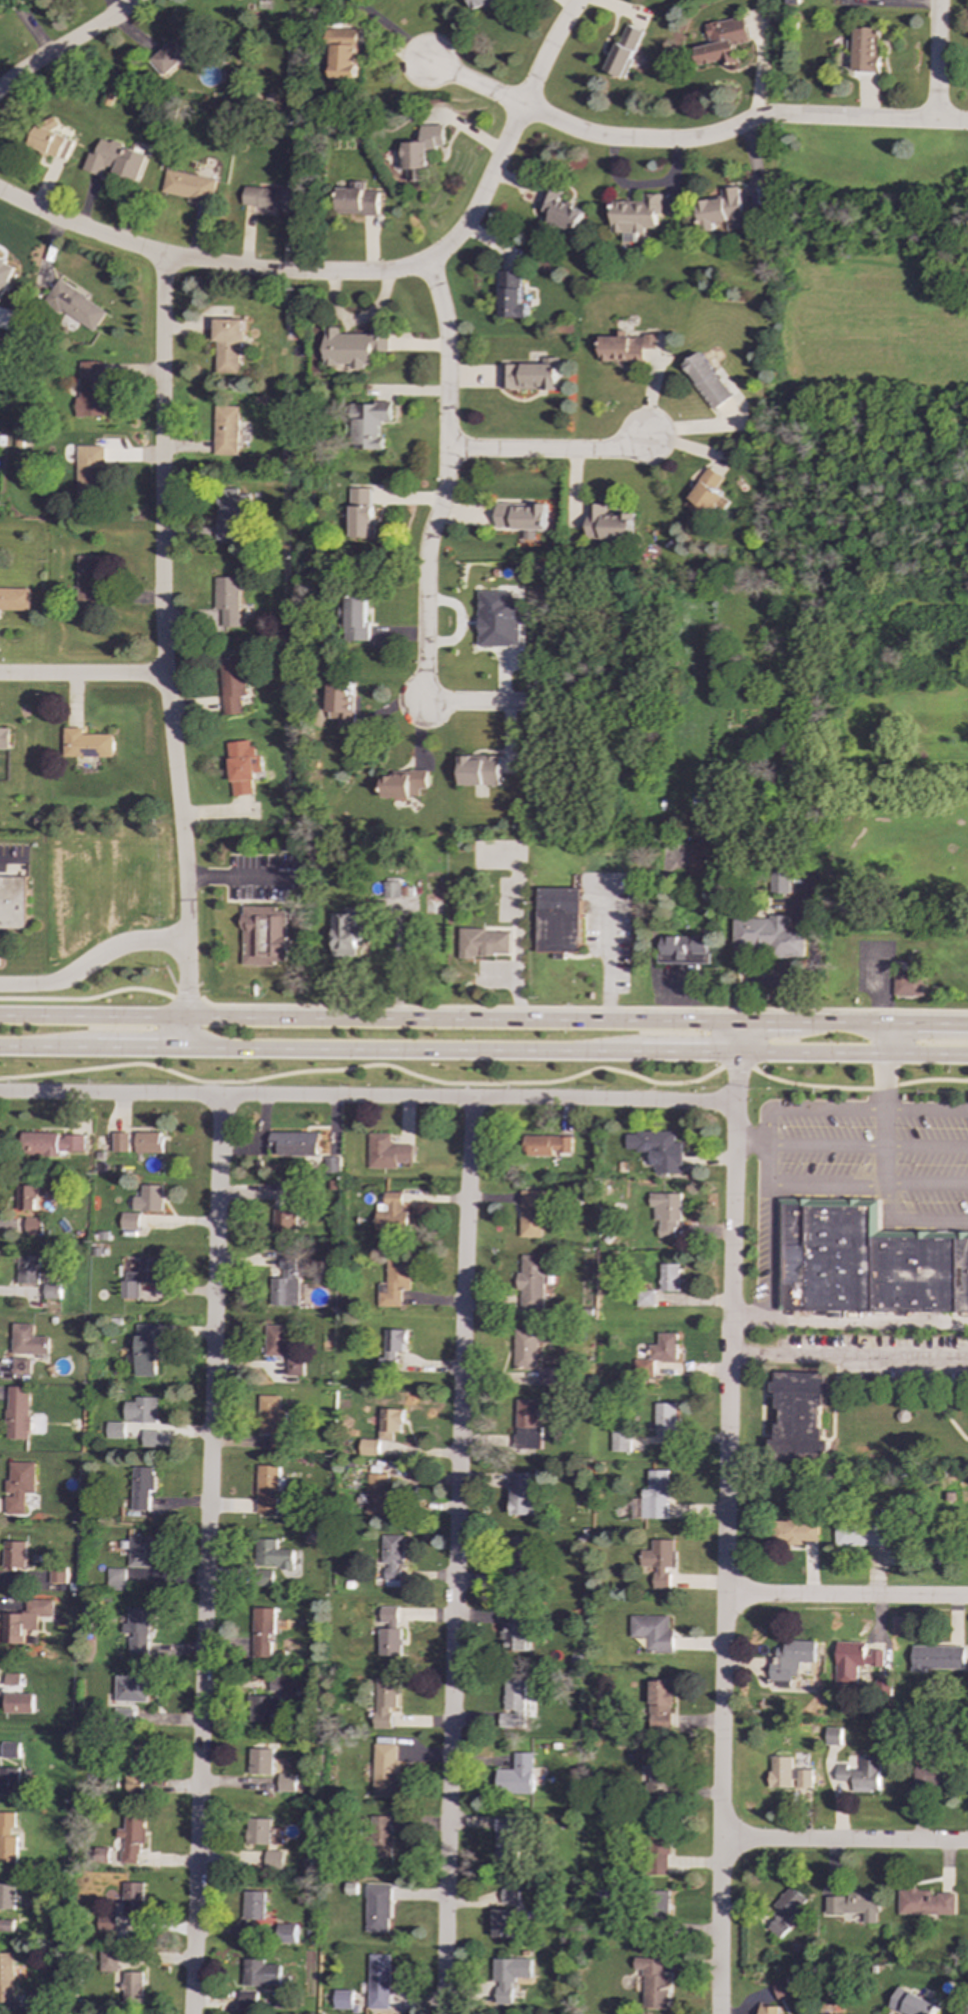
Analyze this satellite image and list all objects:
building: (482, 3)
building: (724, 42)
road: (68, 45)
building: (866, 50)
building: (177, 51)
building: (625, 51)
road: (548, 52)
road: (937, 60)
road: (469, 83)
road: (741, 125)
building: (49, 141)
building: (420, 152)
building: (114, 160)
building: (188, 186)
building: (268, 198)
building: (356, 199)
building: (724, 210)
building: (560, 211)
building: (637, 215)
road: (300, 272)
building: (5, 274)
building: (511, 295)
building: (76, 304)
building: (228, 346)
building: (354, 346)
building: (626, 347)
building: (531, 375)
building: (707, 380)
building: (91, 389)
building: (368, 424)
building: (225, 430)
road: (550, 451)
building: (88, 469)
road: (446, 482)
building: (706, 494)
building: (231, 512)
building: (362, 513)
building: (525, 518)
building: (609, 523)
building: (87, 580)
building: (14, 599)
building: (227, 600)
building: (357, 618)
building: (499, 619)
road: (161, 637)
road: (82, 675)
building: (231, 684)
road: (494, 699)
building: (341, 704)
building: (4, 738)
building: (86, 743)
building: (243, 766)
building: (479, 770)
building: (404, 784)
building: (698, 860)
road: (7, 863)
road: (235, 877)
building: (780, 882)
building: (398, 896)
building: (12, 902)
road: (516, 919)
building: (560, 921)
building: (346, 933)
building: (264, 935)
building: (769, 938)
building: (482, 943)
building: (684, 950)
road: (607, 953)
road: (92, 961)
road: (761, 966)
road: (739, 975)
road: (500, 976)
road: (767, 981)
building: (909, 986)
road: (87, 998)
road: (187, 998)
road: (881, 1002)
road: (583, 1008)
road: (369, 1017)
road: (768, 1022)
road: (841, 1023)
road: (925, 1024)
road: (186, 1032)
road: (739, 1038)
road: (48, 1047)
road: (140, 1048)
road: (412, 1051)
road: (689, 1054)
road: (835, 1055)
road: (949, 1056)
road: (486, 1083)
road: (210, 1087)
road: (467, 1089)
road: (368, 1094)
road: (808, 1108)
road: (927, 1110)
road: (886, 1118)
building: (121, 1142)
building: (150, 1142)
building: (52, 1143)
building: (295, 1143)
building: (548, 1145)
road: (751, 1145)
road: (826, 1147)
road: (926, 1148)
building: (658, 1149)
building: (388, 1152)
road: (766, 1164)
building: (333, 1165)
road: (825, 1183)
road: (926, 1183)
building: (27, 1197)
building: (150, 1198)
building: (532, 1213)
building: (667, 1213)
building: (396, 1215)
road: (909, 1218)
building: (130, 1221)
building: (285, 1221)
building: (33, 1225)
road: (765, 1250)
building: (865, 1261)
building: (28, 1269)
building: (141, 1276)
building: (669, 1277)
building: (396, 1283)
building: (533, 1283)
building: (286, 1284)
building: (52, 1291)
building: (645, 1298)
road: (748, 1315)
building: (277, 1340)
building: (530, 1346)
building: (26, 1347)
building: (394, 1349)
building: (146, 1350)
building: (658, 1353)
road: (849, 1354)
building: (295, 1367)
building: (550, 1376)
building: (141, 1410)
building: (18, 1412)
building: (799, 1416)
building: (665, 1419)
building: (273, 1421)
building: (527, 1425)
building: (115, 1430)
building: (384, 1433)
building: (151, 1438)
building: (620, 1441)
building: (19, 1486)
building: (142, 1487)
building: (266, 1488)
building: (522, 1493)
building: (655, 1495)
building: (380, 1497)
building: (794, 1531)
road: (726, 1534)
building: (860, 1534)
building: (139, 1551)
road: (205, 1553)
building: (14, 1554)
building: (271, 1554)
road: (456, 1555)
building: (518, 1557)
building: (392, 1559)
building: (658, 1561)
building: (57, 1575)
building: (265, 1576)
building: (115, 1579)
road: (846, 1597)
building: (24, 1620)
building: (138, 1630)
building: (515, 1631)
building: (262, 1632)
building: (390, 1632)
building: (653, 1632)
building: (937, 1657)
building: (791, 1659)
building: (854, 1661)
building: (11, 1679)
building: (282, 1685)
building: (130, 1689)
building: (386, 1701)
building: (17, 1703)
building: (514, 1704)
building: (661, 1705)
building: (263, 1708)
building: (831, 1736)
building: (9, 1750)
building: (260, 1761)
building: (137, 1768)
building: (385, 1769)
building: (660, 1774)
building: (789, 1774)
building: (861, 1775)
building: (516, 1776)
building: (929, 1777)
building: (8, 1780)
building: (286, 1786)
building: (258, 1831)
building: (380, 1836)
building: (7, 1837)
building: (131, 1839)
building: (507, 1840)
road: (845, 1840)
building: (659, 1849)
building: (101, 1854)
building: (273, 1859)
building: (6, 1896)
building: (509, 1896)
building: (132, 1899)
building: (660, 1900)
building: (926, 1902)
building: (253, 1905)
building: (856, 1905)
building: (377, 1908)
building: (784, 1911)
building: (503, 1923)
building: (285, 1933)
building: (116, 1960)
building: (260, 1973)
building: (508, 1976)
building: (6, 1979)
building: (379, 1981)
building: (653, 1982)
building: (133, 1987)
building: (782, 1988)
building: (39, 1998)
building: (342, 1999)
building: (254, 2000)
building: (912, 2003)
building: (769, 2009)

